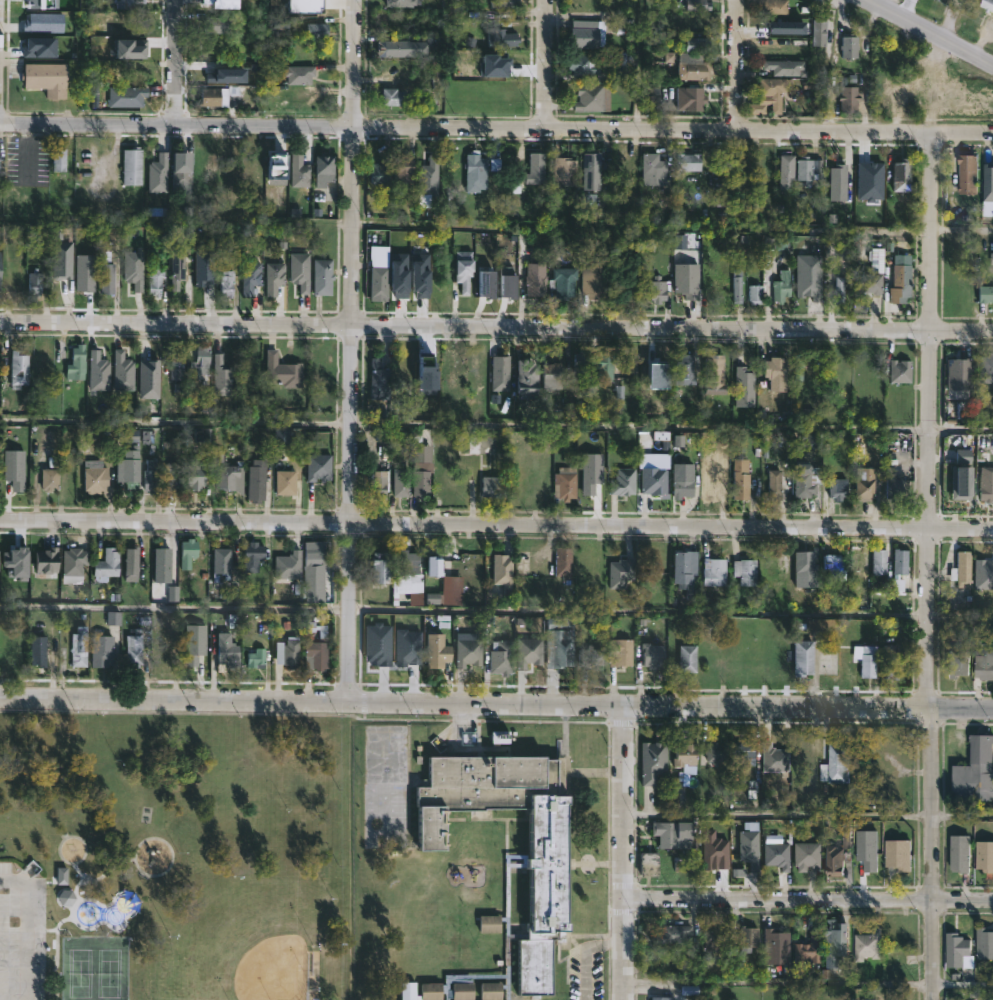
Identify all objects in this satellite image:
building: (401, 2)
building: (48, 3)
building: (222, 3)
building: (132, 4)
building: (503, 4)
building: (699, 5)
building: (989, 5)
building: (308, 6)
building: (772, 7)
building: (47, 20)
building: (221, 24)
building: (785, 29)
road: (932, 30)
building: (319, 31)
building: (817, 33)
building: (586, 34)
building: (502, 38)
building: (697, 44)
building: (43, 45)
building: (848, 46)
building: (134, 48)
building: (398, 48)
building: (219, 53)
road: (178, 62)
building: (497, 63)
building: (585, 63)
road: (544, 64)
road: (737, 65)
building: (695, 66)
building: (784, 67)
building: (299, 74)
building: (438, 74)
building: (213, 77)
building: (44, 78)
building: (774, 91)
building: (129, 96)
building: (213, 96)
building: (394, 96)
building: (591, 98)
building: (694, 98)
building: (847, 98)
road: (496, 128)
building: (61, 160)
building: (690, 162)
building: (281, 164)
building: (625, 164)
building: (1, 166)
building: (134, 166)
building: (801, 167)
building: (405, 168)
building: (537, 168)
building: (183, 170)
building: (324, 170)
building: (593, 170)
building: (657, 170)
building: (301, 171)
building: (566, 171)
building: (784, 171)
building: (159, 172)
building: (478, 173)
building: (965, 173)
building: (381, 174)
building: (899, 174)
building: (868, 177)
building: (428, 179)
building: (835, 182)
building: (987, 188)
building: (382, 239)
building: (64, 257)
building: (2, 266)
building: (178, 267)
building: (135, 268)
building: (205, 268)
building: (300, 269)
building: (466, 269)
building: (87, 271)
building: (402, 274)
building: (424, 274)
building: (869, 274)
building: (324, 276)
building: (807, 276)
building: (253, 277)
building: (109, 278)
building: (277, 278)
building: (687, 278)
building: (898, 278)
building: (157, 280)
building: (534, 280)
building: (228, 282)
building: (565, 282)
building: (596, 283)
building: (37, 284)
building: (381, 284)
building: (489, 284)
building: (510, 285)
building: (735, 285)
building: (781, 288)
building: (659, 289)
building: (841, 291)
building: (984, 294)
building: (755, 295)
road: (496, 326)
road: (352, 351)
building: (199, 361)
building: (77, 362)
building: (175, 362)
building: (605, 365)
building: (19, 367)
building: (682, 368)
building: (984, 368)
building: (282, 369)
building: (580, 369)
building: (800, 370)
building: (898, 371)
building: (125, 372)
building: (427, 372)
building: (498, 372)
building: (101, 373)
building: (776, 373)
building: (957, 373)
building: (712, 374)
building: (221, 375)
building: (530, 377)
building: (554, 378)
building: (152, 379)
building: (378, 379)
building: (746, 384)
road: (176, 420)
building: (316, 438)
building: (812, 439)
building: (281, 443)
building: (470, 445)
building: (92, 459)
building: (318, 466)
building: (137, 469)
building: (593, 470)
building: (16, 473)
building: (195, 473)
building: (963, 473)
building: (171, 476)
building: (228, 476)
building: (49, 478)
building: (421, 478)
building: (738, 479)
building: (257, 480)
building: (680, 480)
building: (808, 481)
building: (282, 482)
building: (402, 482)
building: (625, 482)
building: (655, 482)
building: (379, 484)
building: (567, 484)
building: (867, 484)
building: (985, 484)
building: (773, 485)
building: (494, 487)
road: (110, 488)
building: (840, 488)
building: (710, 489)
building: (896, 489)
road: (122, 494)
road: (110, 512)
road: (123, 513)
road: (496, 525)
building: (253, 555)
building: (1, 558)
building: (590, 559)
building: (856, 559)
building: (19, 560)
building: (48, 561)
building: (876, 561)
building: (76, 562)
building: (164, 562)
building: (110, 563)
building: (223, 563)
building: (561, 563)
building: (133, 564)
building: (981, 564)
building: (290, 565)
building: (833, 565)
building: (683, 566)
road: (929, 566)
building: (436, 567)
building: (897, 568)
building: (960, 568)
building: (504, 570)
building: (801, 570)
building: (316, 571)
building: (747, 571)
building: (401, 572)
building: (622, 572)
building: (716, 572)
building: (453, 591)
building: (380, 643)
building: (560, 644)
building: (195, 645)
building: (81, 646)
building: (410, 646)
building: (317, 647)
building: (136, 649)
building: (40, 650)
building: (104, 650)
building: (229, 650)
building: (439, 651)
building: (288, 652)
building: (531, 652)
building: (470, 653)
building: (623, 653)
building: (21, 654)
building: (165, 656)
building: (592, 656)
building: (655, 656)
building: (801, 656)
building: (257, 657)
building: (690, 659)
building: (983, 659)
building: (503, 660)
building: (866, 660)
building: (887, 660)
building: (955, 662)
building: (417, 663)
road: (496, 703)
building: (719, 750)
building: (746, 752)
building: (688, 755)
building: (774, 757)
building: (655, 760)
building: (833, 763)
building: (974, 770)
building: (673, 833)
building: (750, 841)
building: (868, 847)
building: (715, 849)
road: (621, 852)
building: (836, 852)
building: (960, 852)
building: (777, 854)
building: (805, 855)
building: (985, 855)
building: (899, 856)
park: (177, 858)
building: (651, 863)
building: (546, 890)
road: (78, 896)
road: (89, 900)
road: (807, 900)
water park: (113, 910)
road: (28, 927)
building: (717, 934)
parking lot: (22, 935)
building: (676, 935)
building: (752, 936)
building: (984, 942)
building: (865, 944)
building: (831, 945)
building: (776, 946)
building: (806, 948)
building: (956, 948)
road: (585, 953)
road: (56, 965)
park: (96, 969)
park: (274, 969)
building: (664, 998)

